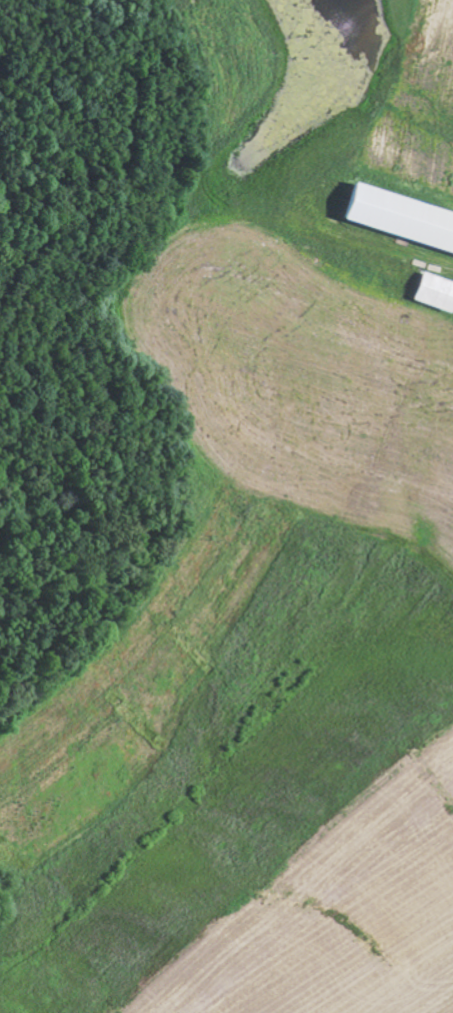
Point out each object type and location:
building: (402, 216)
building: (437, 290)

